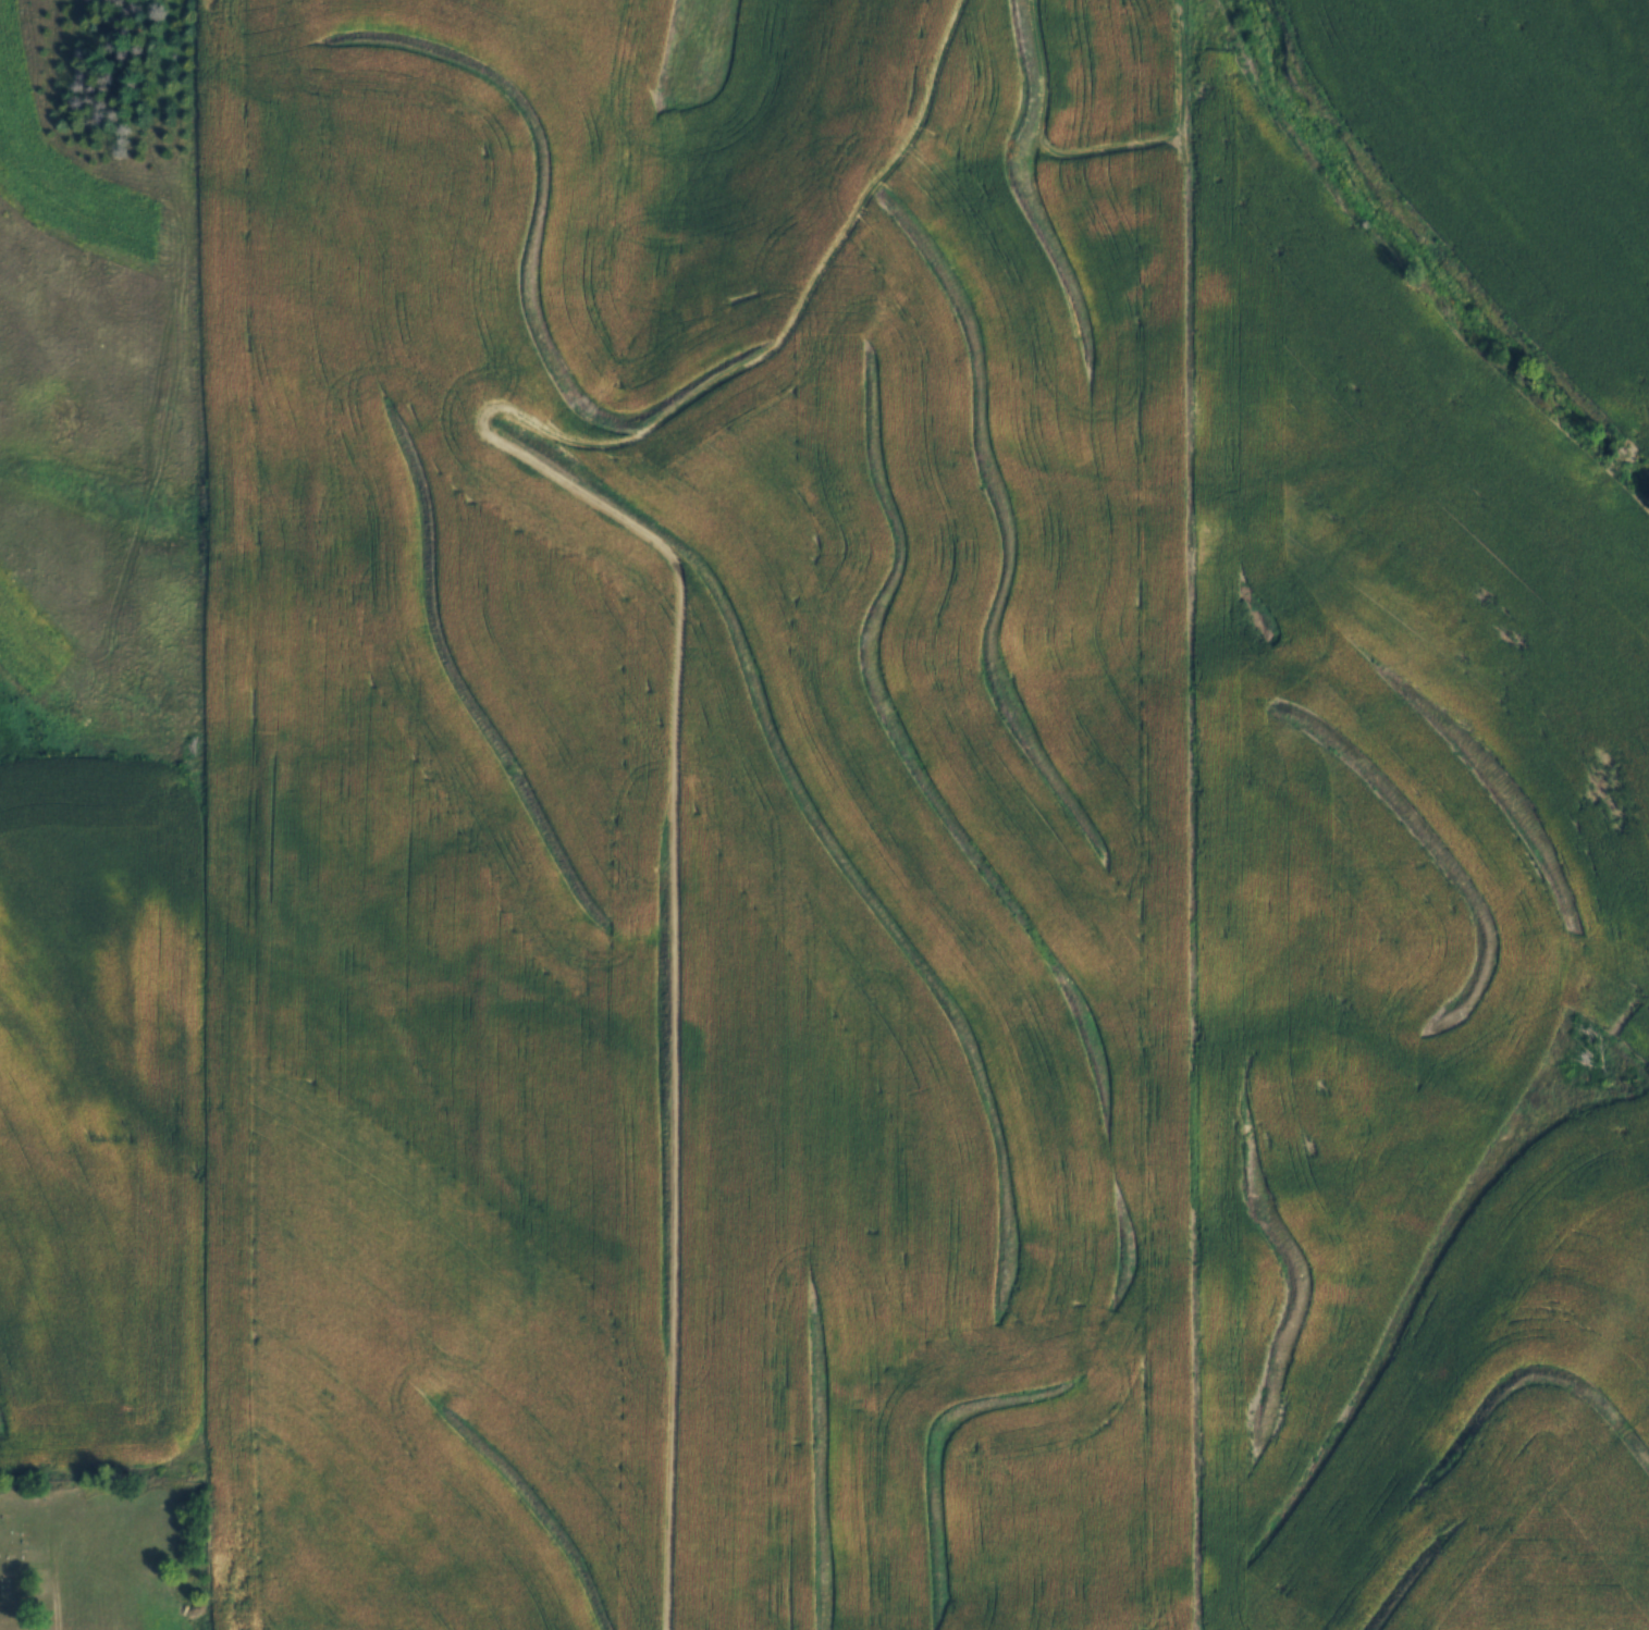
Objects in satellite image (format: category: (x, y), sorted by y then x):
road: (51, 1576)

